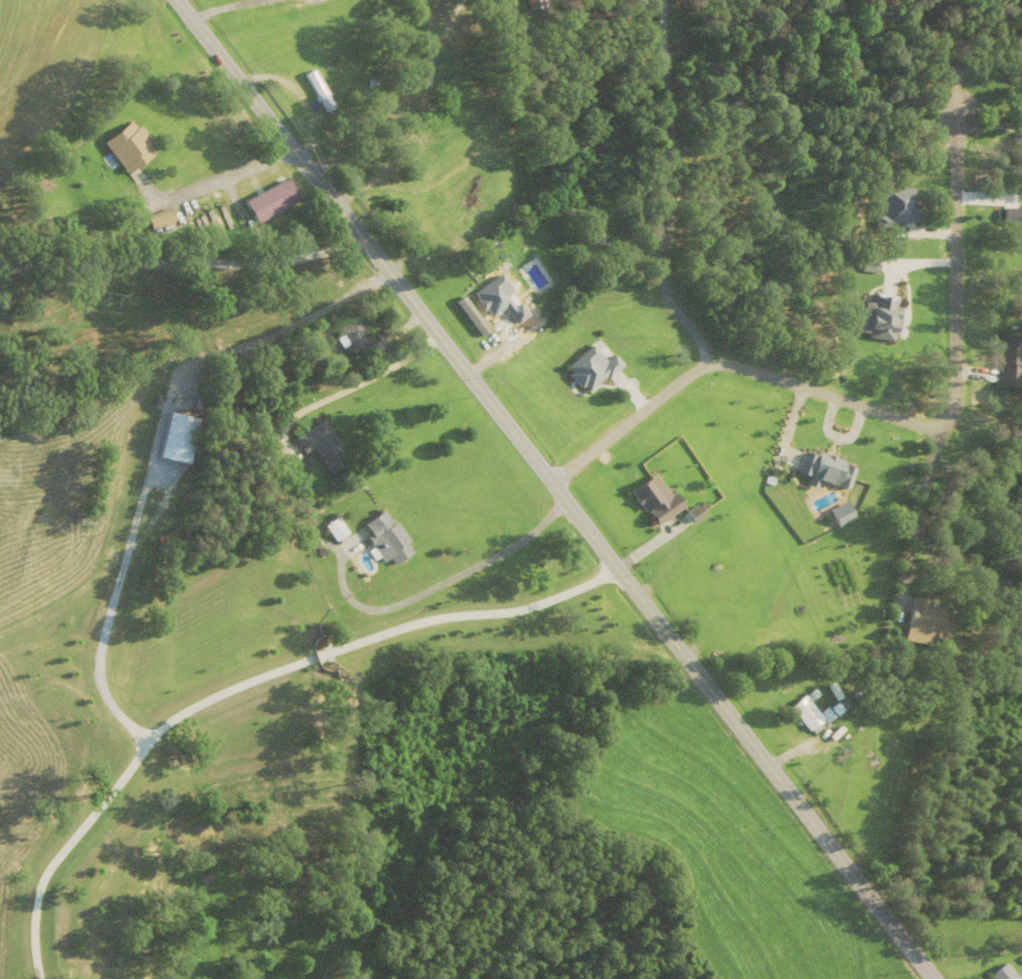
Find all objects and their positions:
building: (321, 93)
building: (1020, 100)
building: (132, 149)
road: (215, 186)
building: (379, 186)
road: (655, 194)
building: (900, 209)
building: (276, 222)
building: (1014, 225)
building: (446, 239)
road: (183, 266)
building: (870, 267)
building: (495, 297)
building: (519, 315)
building: (883, 319)
building: (355, 337)
building: (1012, 364)
building: (593, 370)
road: (247, 376)
road: (882, 415)
building: (323, 448)
building: (826, 470)
building: (114, 489)
road: (554, 489)
building: (658, 502)
building: (843, 515)
building: (338, 531)
building: (388, 540)
building: (84, 591)
building: (928, 624)
road: (246, 686)
building: (810, 716)
building: (1005, 974)

